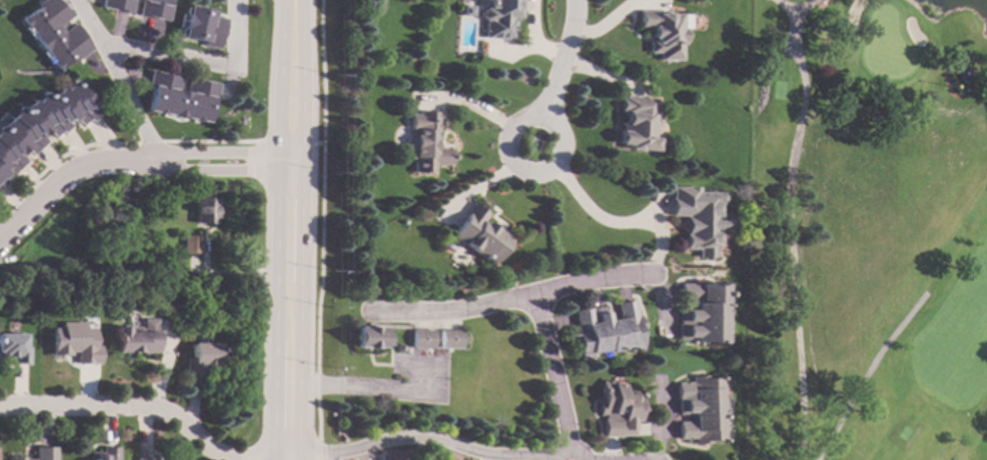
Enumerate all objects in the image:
building: (117, 5)
road: (794, 8)
building: (155, 9)
building: (498, 17)
building: (202, 27)
building: (663, 32)
building: (54, 33)
road: (202, 61)
road: (566, 63)
building: (964, 73)
road: (116, 79)
building: (180, 97)
road: (475, 101)
building: (40, 123)
building: (638, 123)
road: (515, 124)
building: (426, 142)
road: (133, 159)
building: (205, 211)
building: (699, 218)
road: (620, 224)
road: (293, 229)
park: (867, 230)
road: (790, 233)
building: (481, 234)
building: (191, 244)
building: (643, 289)
road: (510, 298)
building: (703, 313)
building: (607, 329)
building: (371, 337)
building: (136, 338)
building: (422, 338)
building: (451, 338)
building: (74, 343)
building: (14, 349)
building: (202, 358)
road: (866, 372)
road: (554, 376)
building: (621, 409)
building: (703, 409)
road: (154, 414)
road: (415, 436)
building: (41, 454)
building: (104, 454)
building: (145, 458)
road: (304, 459)
road: (317, 459)

